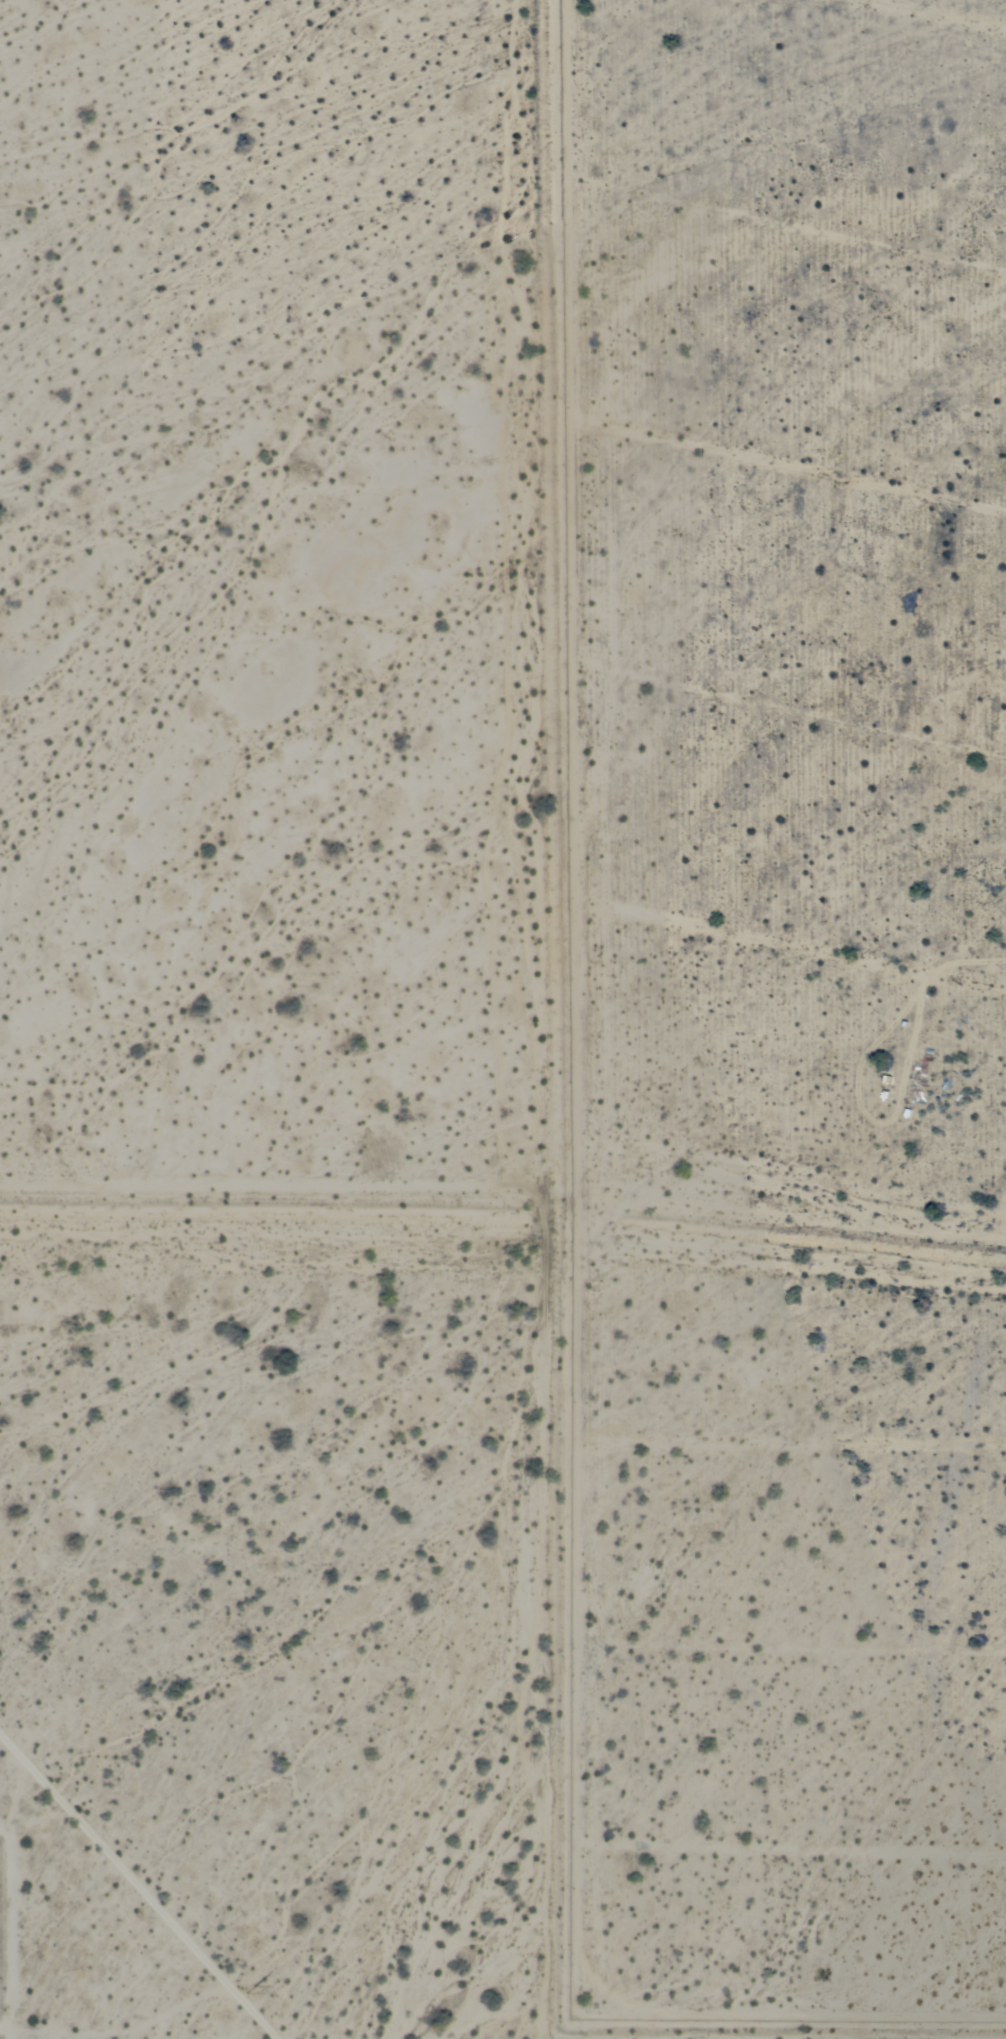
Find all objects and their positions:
power tower: (246, 1988)

